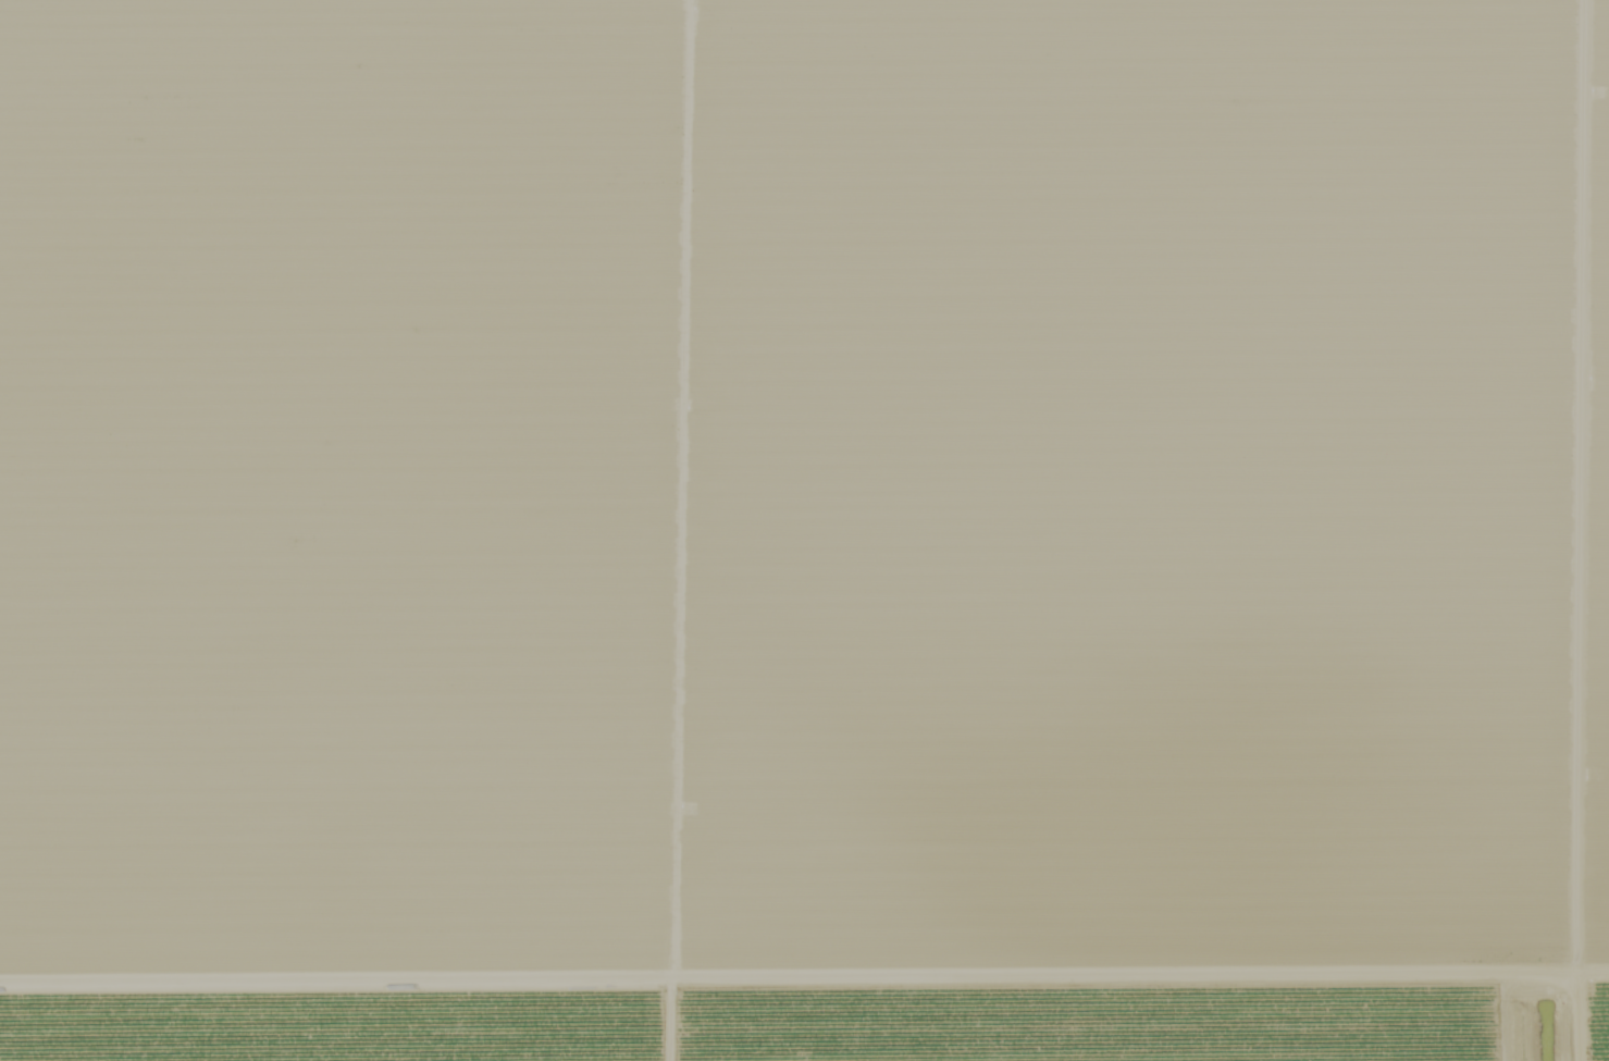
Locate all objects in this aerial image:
crop: (804, 499)
crop: (791, 1029)
crop: (1599, 1031)

